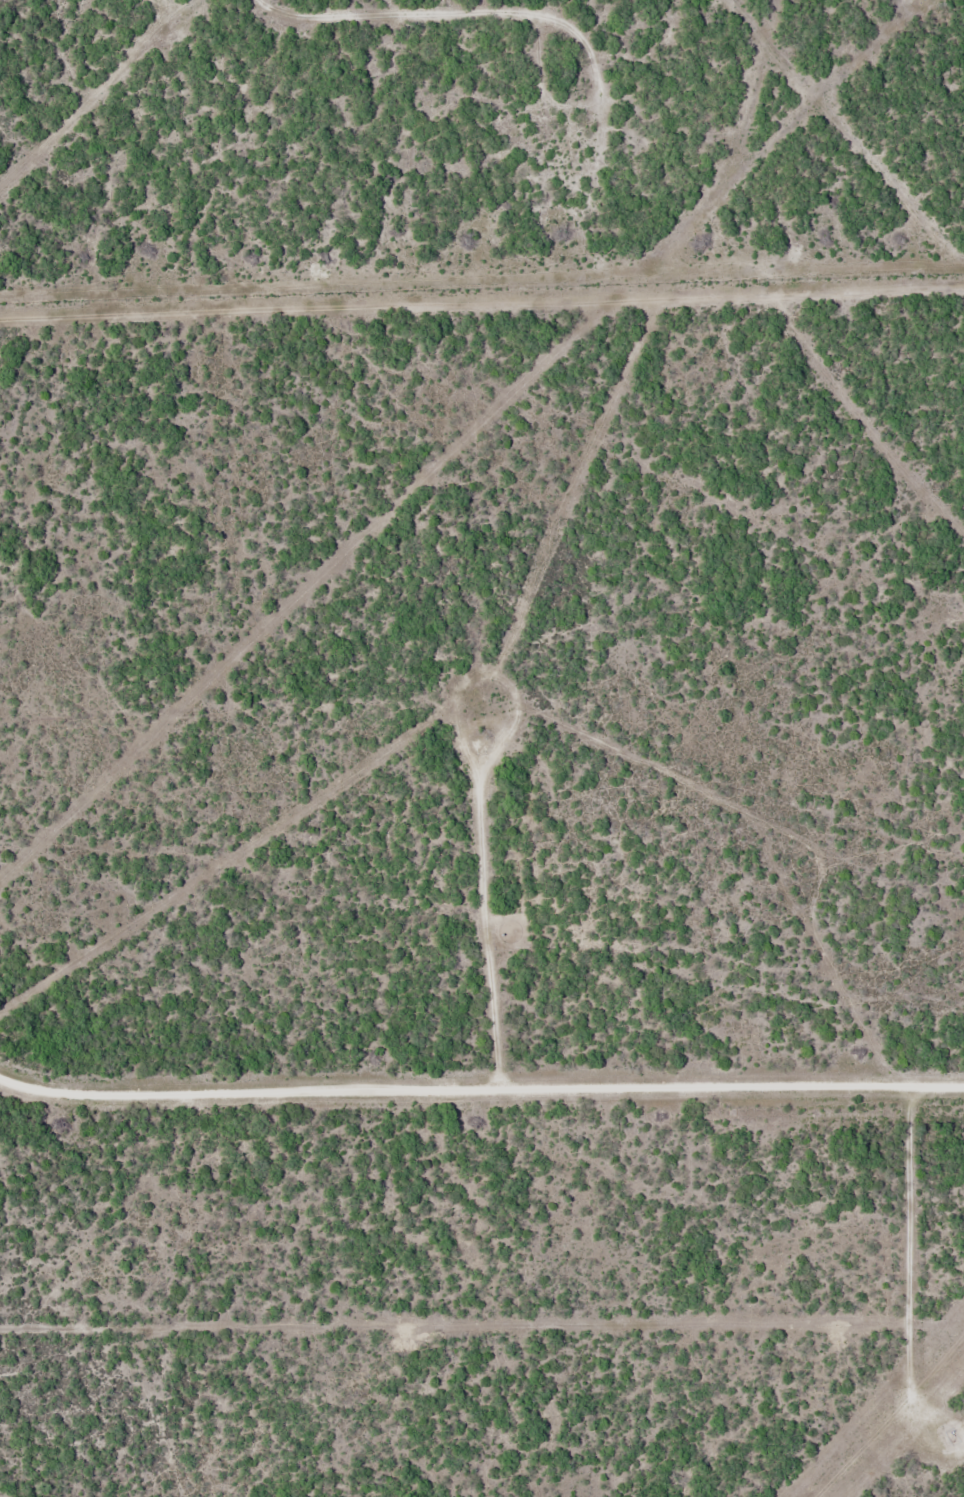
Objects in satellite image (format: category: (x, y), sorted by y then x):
road: (476, 849)
road: (481, 1062)

